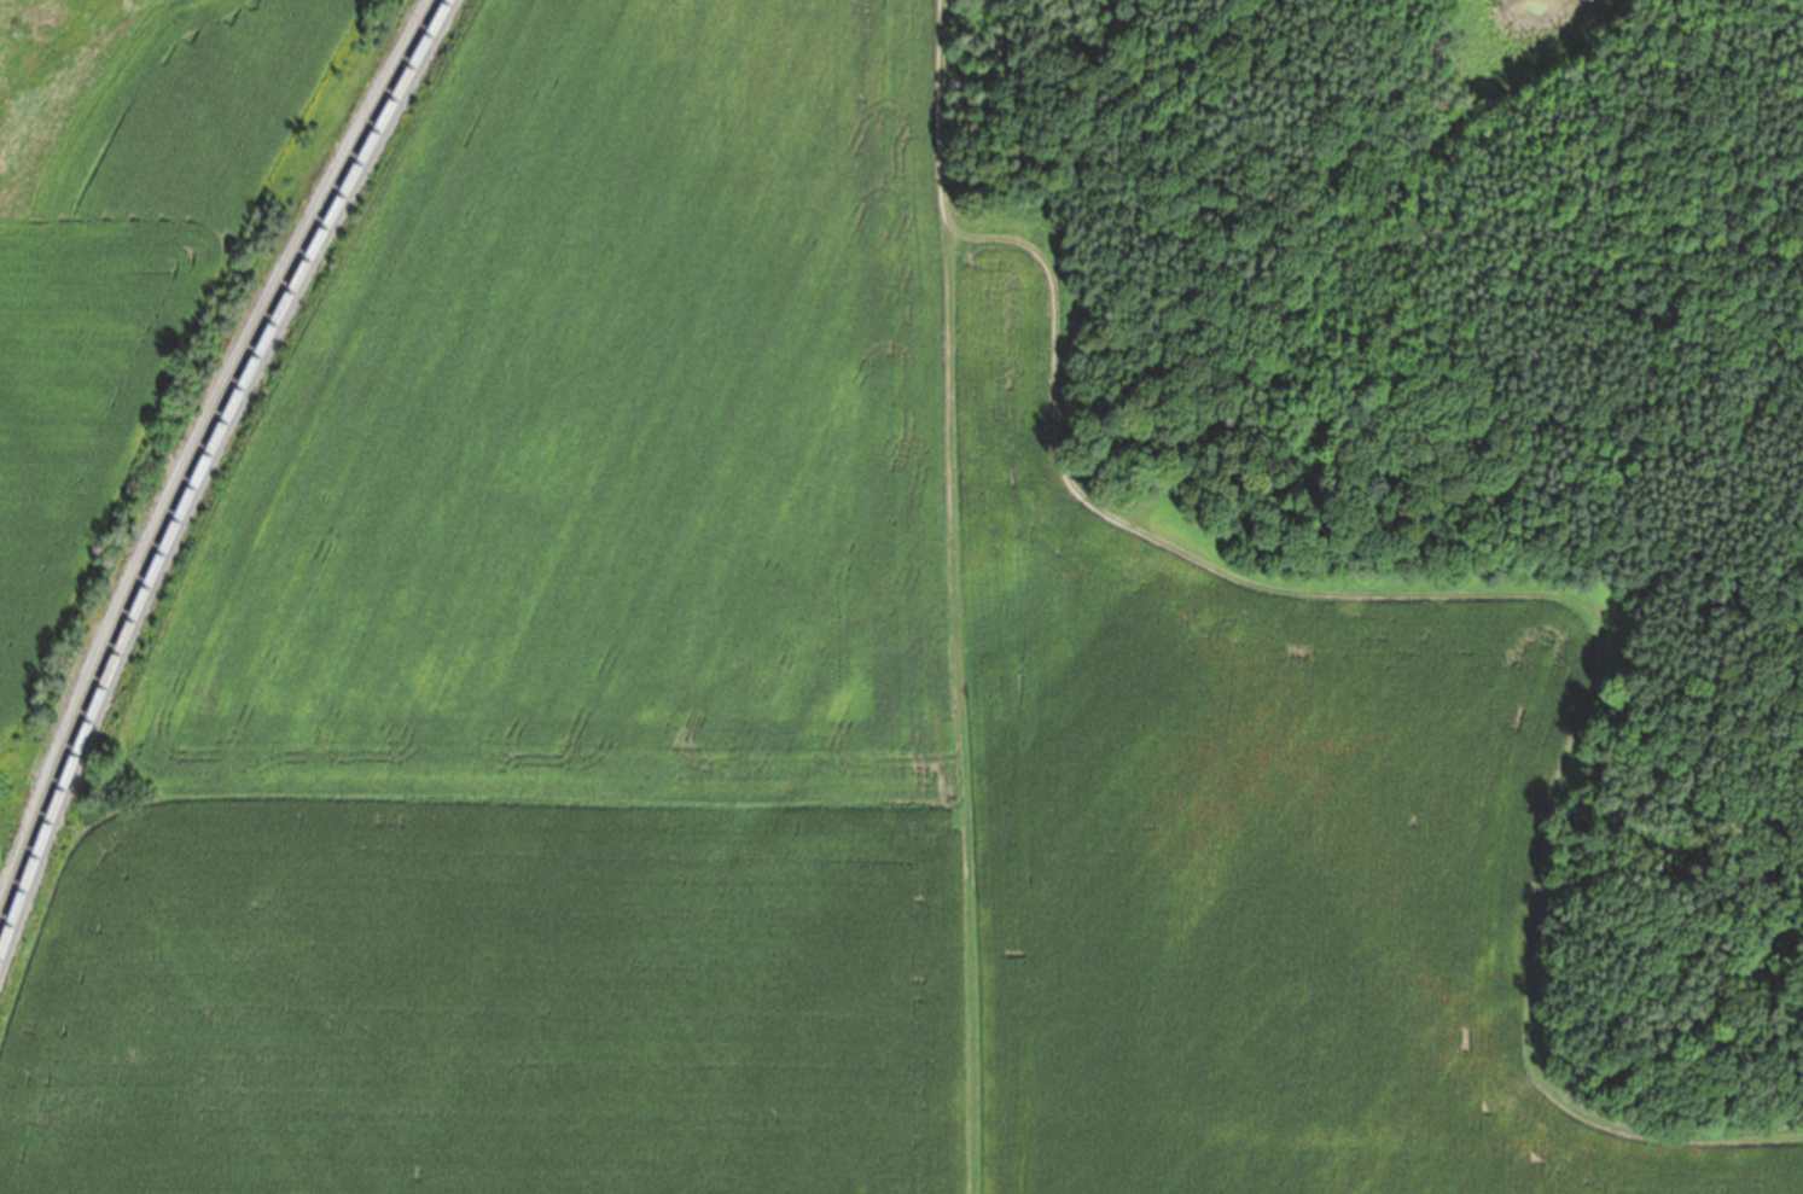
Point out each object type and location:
railway: (196, 447)
railway: (200, 466)

